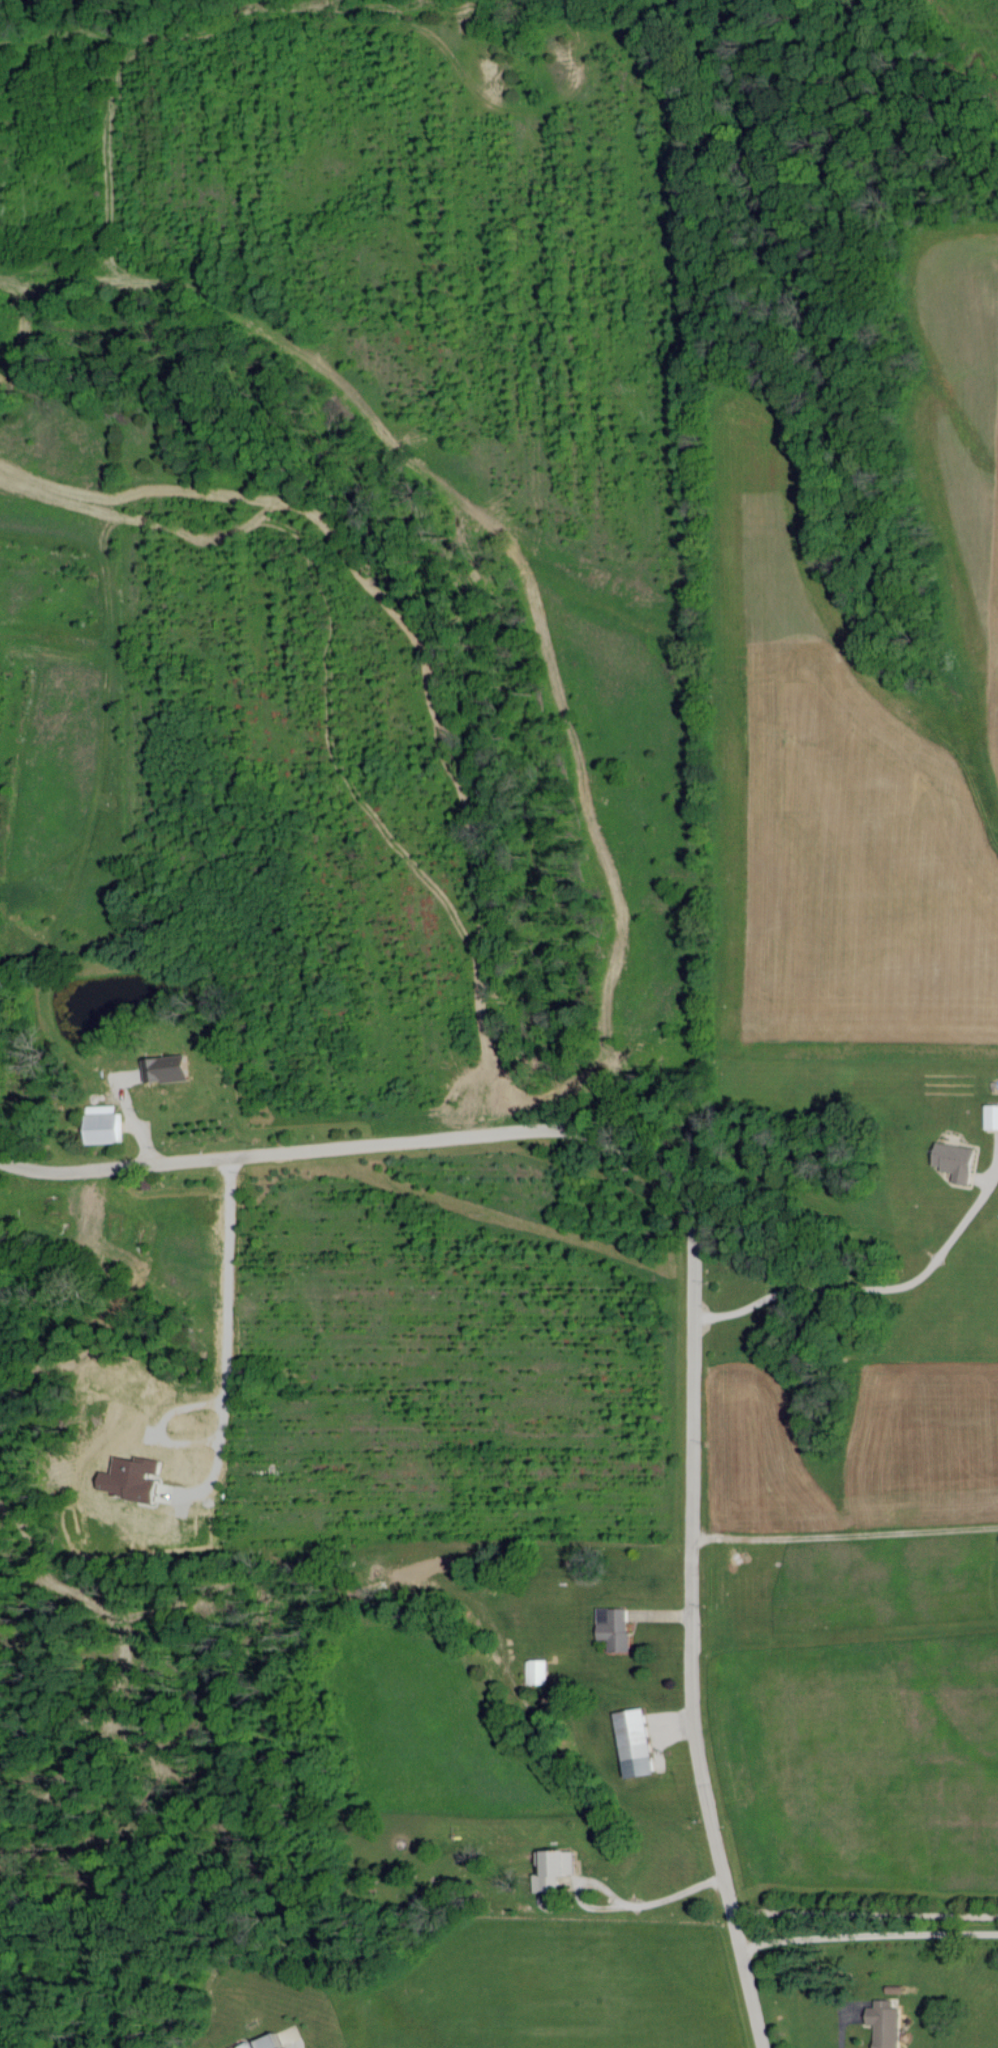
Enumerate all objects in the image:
building: (168, 1069)
building: (993, 1116)
building: (107, 1125)
road: (337, 1146)
building: (957, 1161)
road: (872, 1285)
road: (691, 1614)
building: (615, 1628)
building: (538, 1671)
building: (637, 1742)
road: (620, 1905)
road: (863, 1913)
road: (867, 1934)
building: (886, 2023)
building: (275, 2041)

